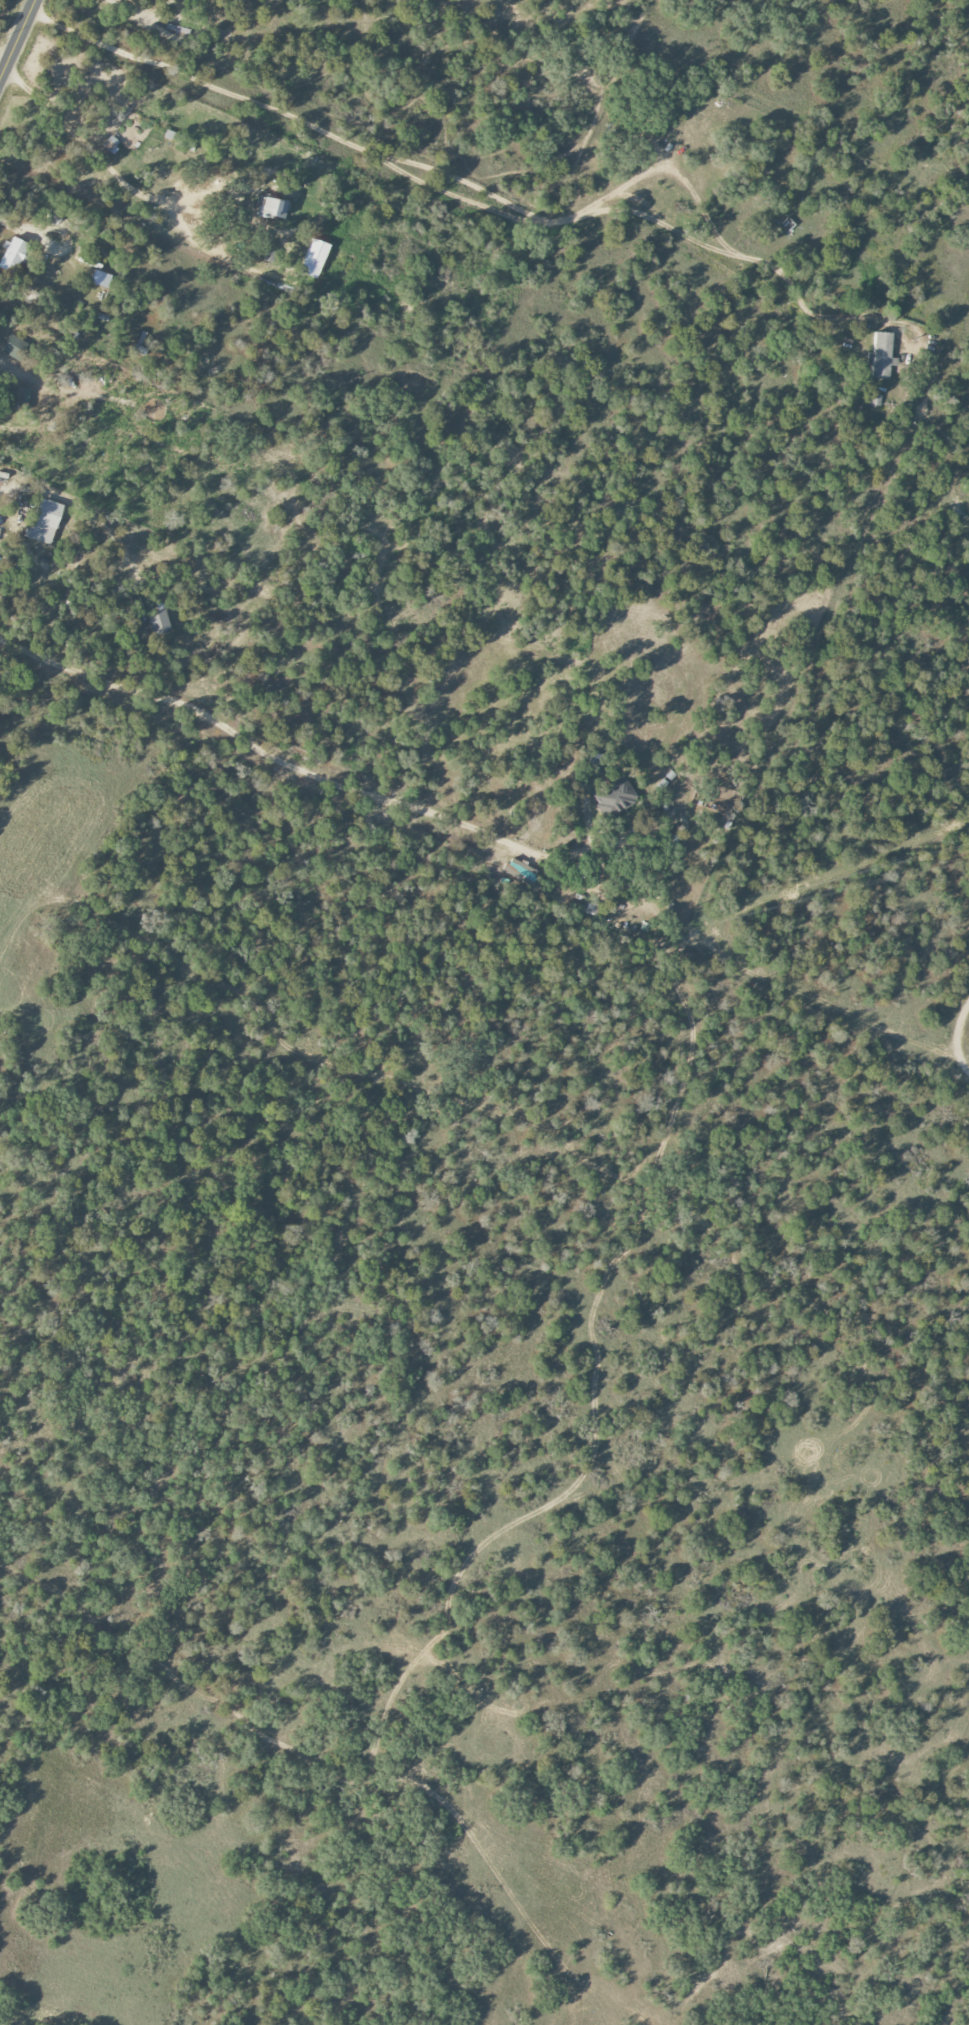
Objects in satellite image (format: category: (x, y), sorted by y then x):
building: (185, 0)
road: (18, 39)
road: (4, 60)
building: (111, 144)
road: (461, 181)
building: (272, 208)
road: (26, 231)
building: (316, 253)
building: (15, 254)
building: (14, 347)
building: (882, 355)
building: (45, 522)
building: (159, 621)
road: (263, 752)
building: (616, 797)
building: (519, 871)
road: (838, 1014)
road: (955, 1034)

